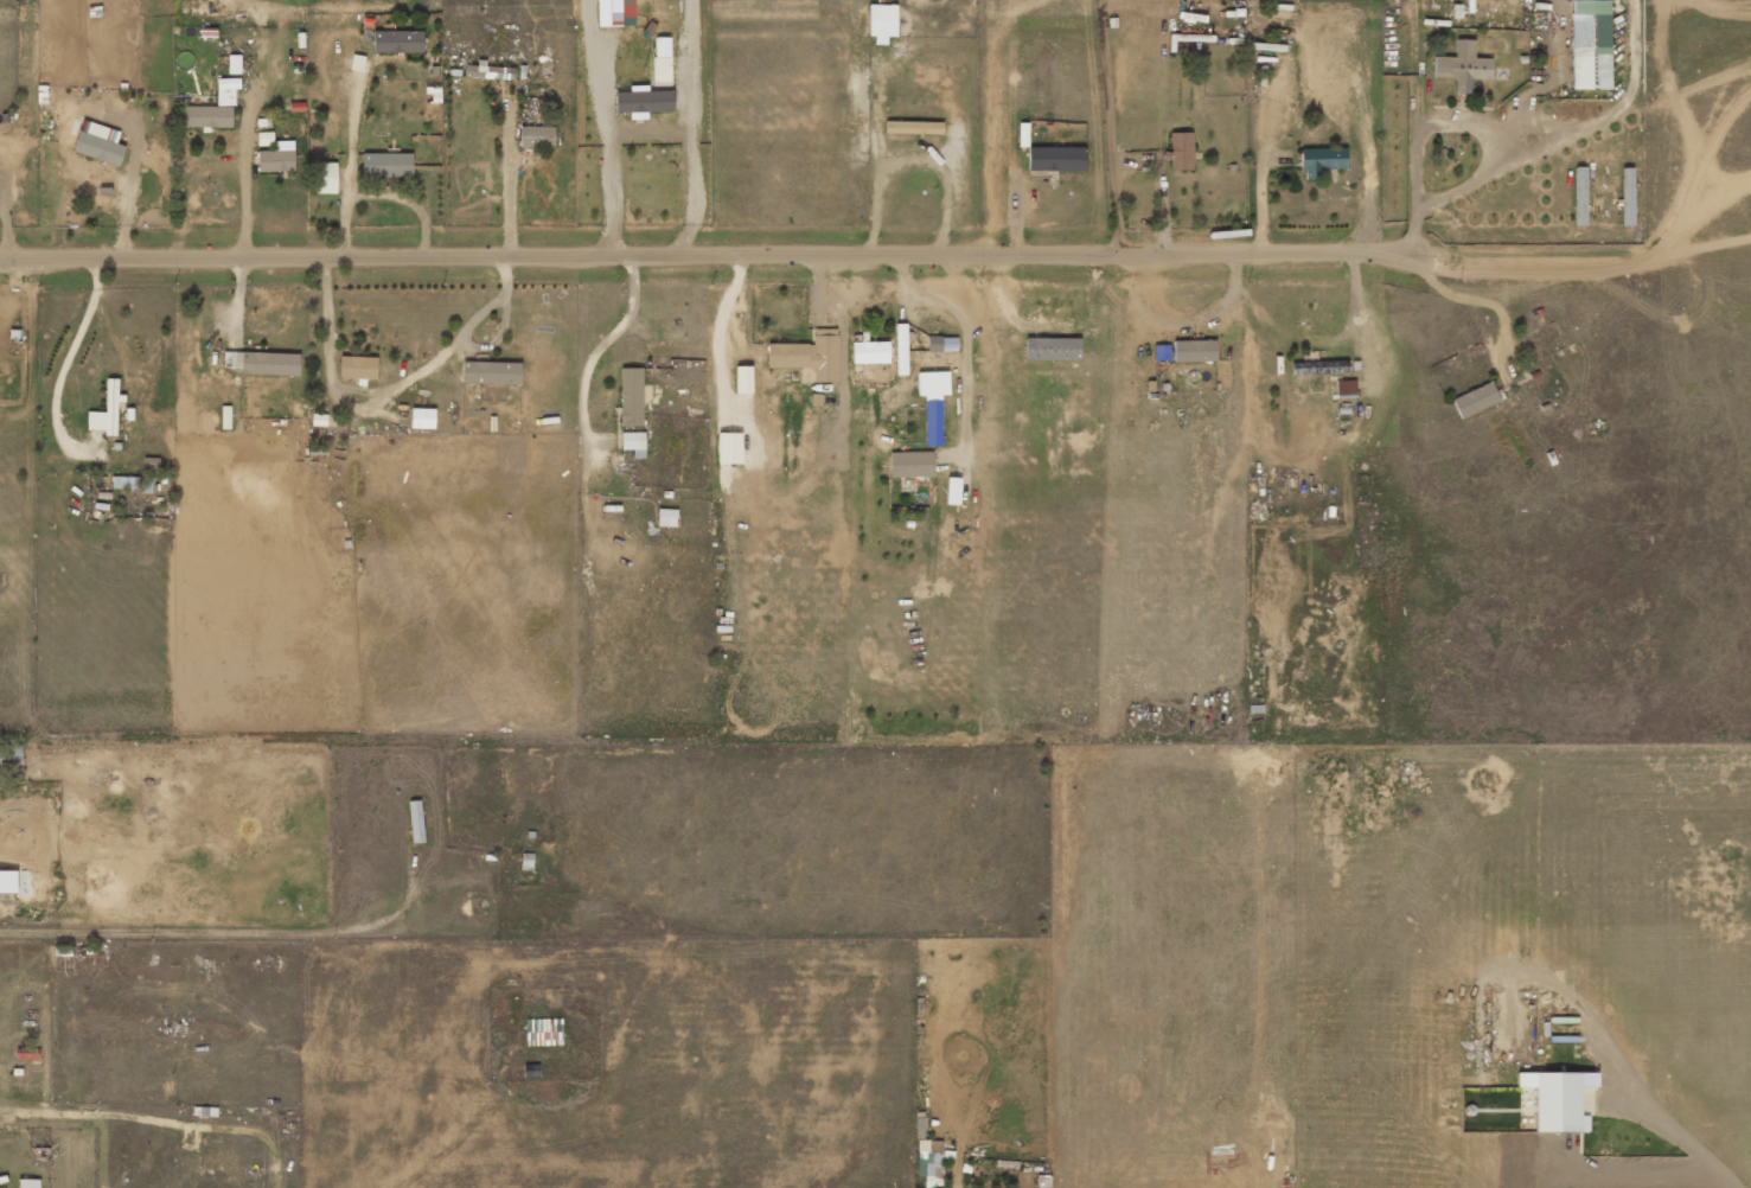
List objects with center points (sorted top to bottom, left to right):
building: (608, 12)
building: (881, 21)
building: (397, 41)
building: (1590, 44)
building: (662, 58)
building: (234, 64)
building: (1462, 66)
building: (490, 71)
building: (643, 101)
building: (213, 107)
building: (913, 127)
building: (536, 136)
building: (98, 142)
building: (1180, 149)
building: (277, 158)
building: (1056, 158)
building: (1322, 160)
building: (386, 164)
building: (324, 178)
building: (1579, 189)
road: (699, 251)
building: (941, 344)
building: (900, 349)
building: (1052, 349)
building: (1194, 350)
building: (869, 351)
building: (809, 355)
building: (263, 363)
building: (1318, 366)
building: (358, 368)
building: (491, 372)
building: (740, 379)
building: (1344, 387)
building: (631, 396)
building: (1475, 400)
building: (106, 410)
building: (422, 417)
building: (633, 442)
building: (910, 464)
building: (124, 483)
building: (952, 491)
building: (666, 517)
building: (416, 820)
building: (8, 881)
building: (543, 1031)
building: (27, 1053)
building: (1558, 1099)
building: (30, 1183)

